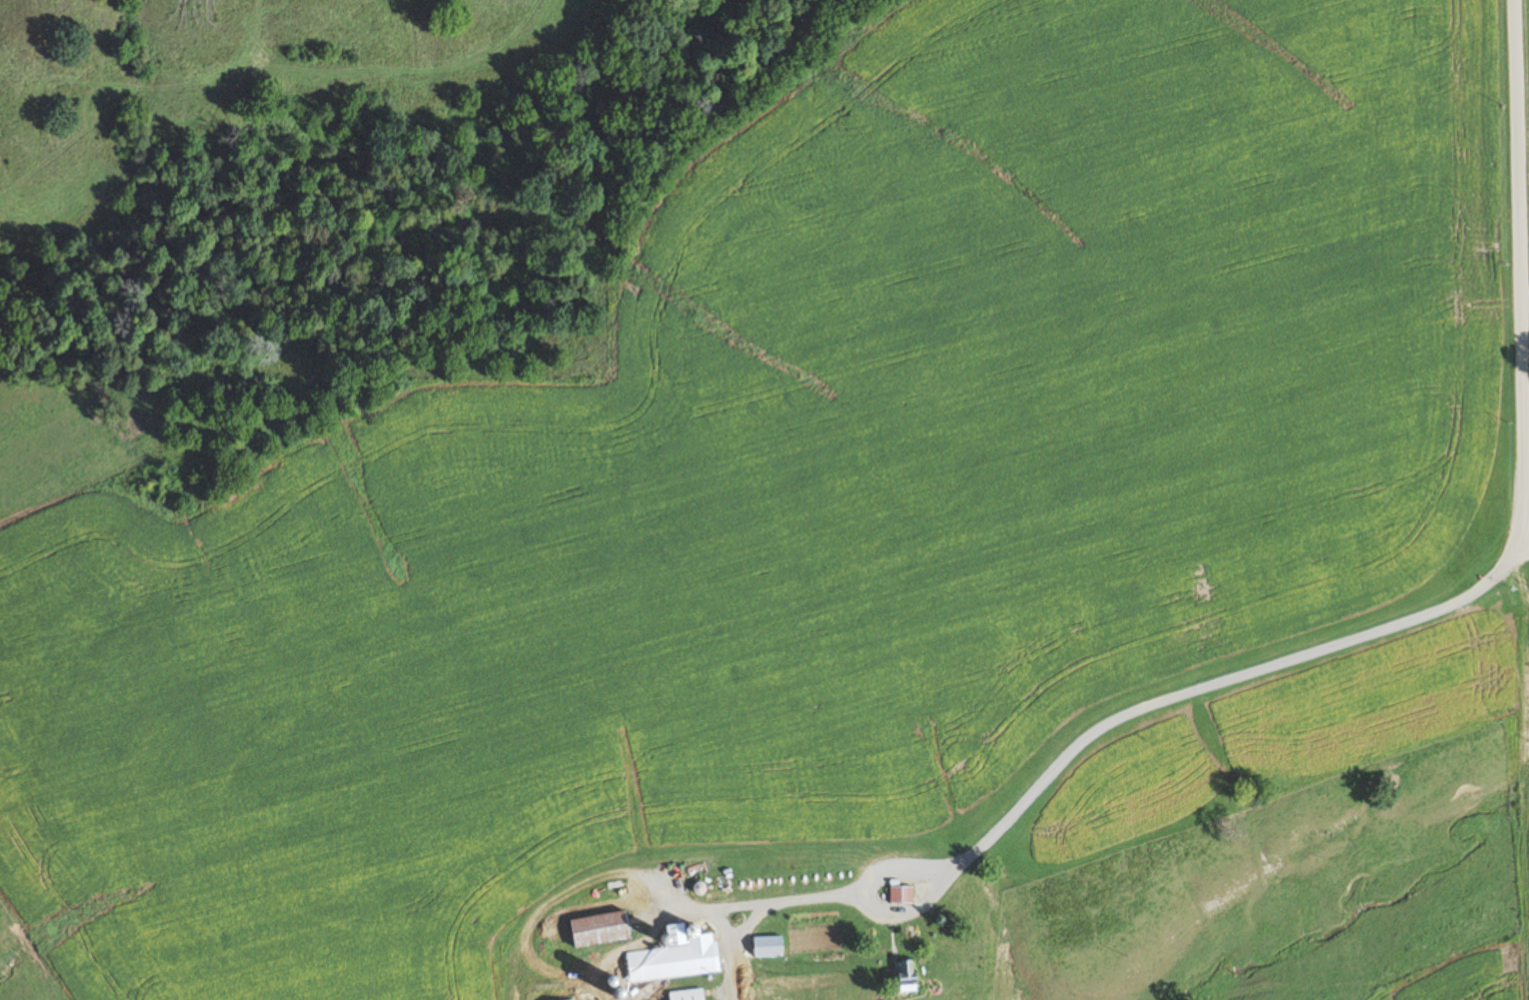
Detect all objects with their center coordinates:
road: (1524, 547)
road: (1466, 591)
road: (1526, 718)
building: (902, 893)
building: (603, 927)
building: (770, 945)
building: (677, 954)
building: (909, 974)
building: (689, 994)
building: (573, 999)

